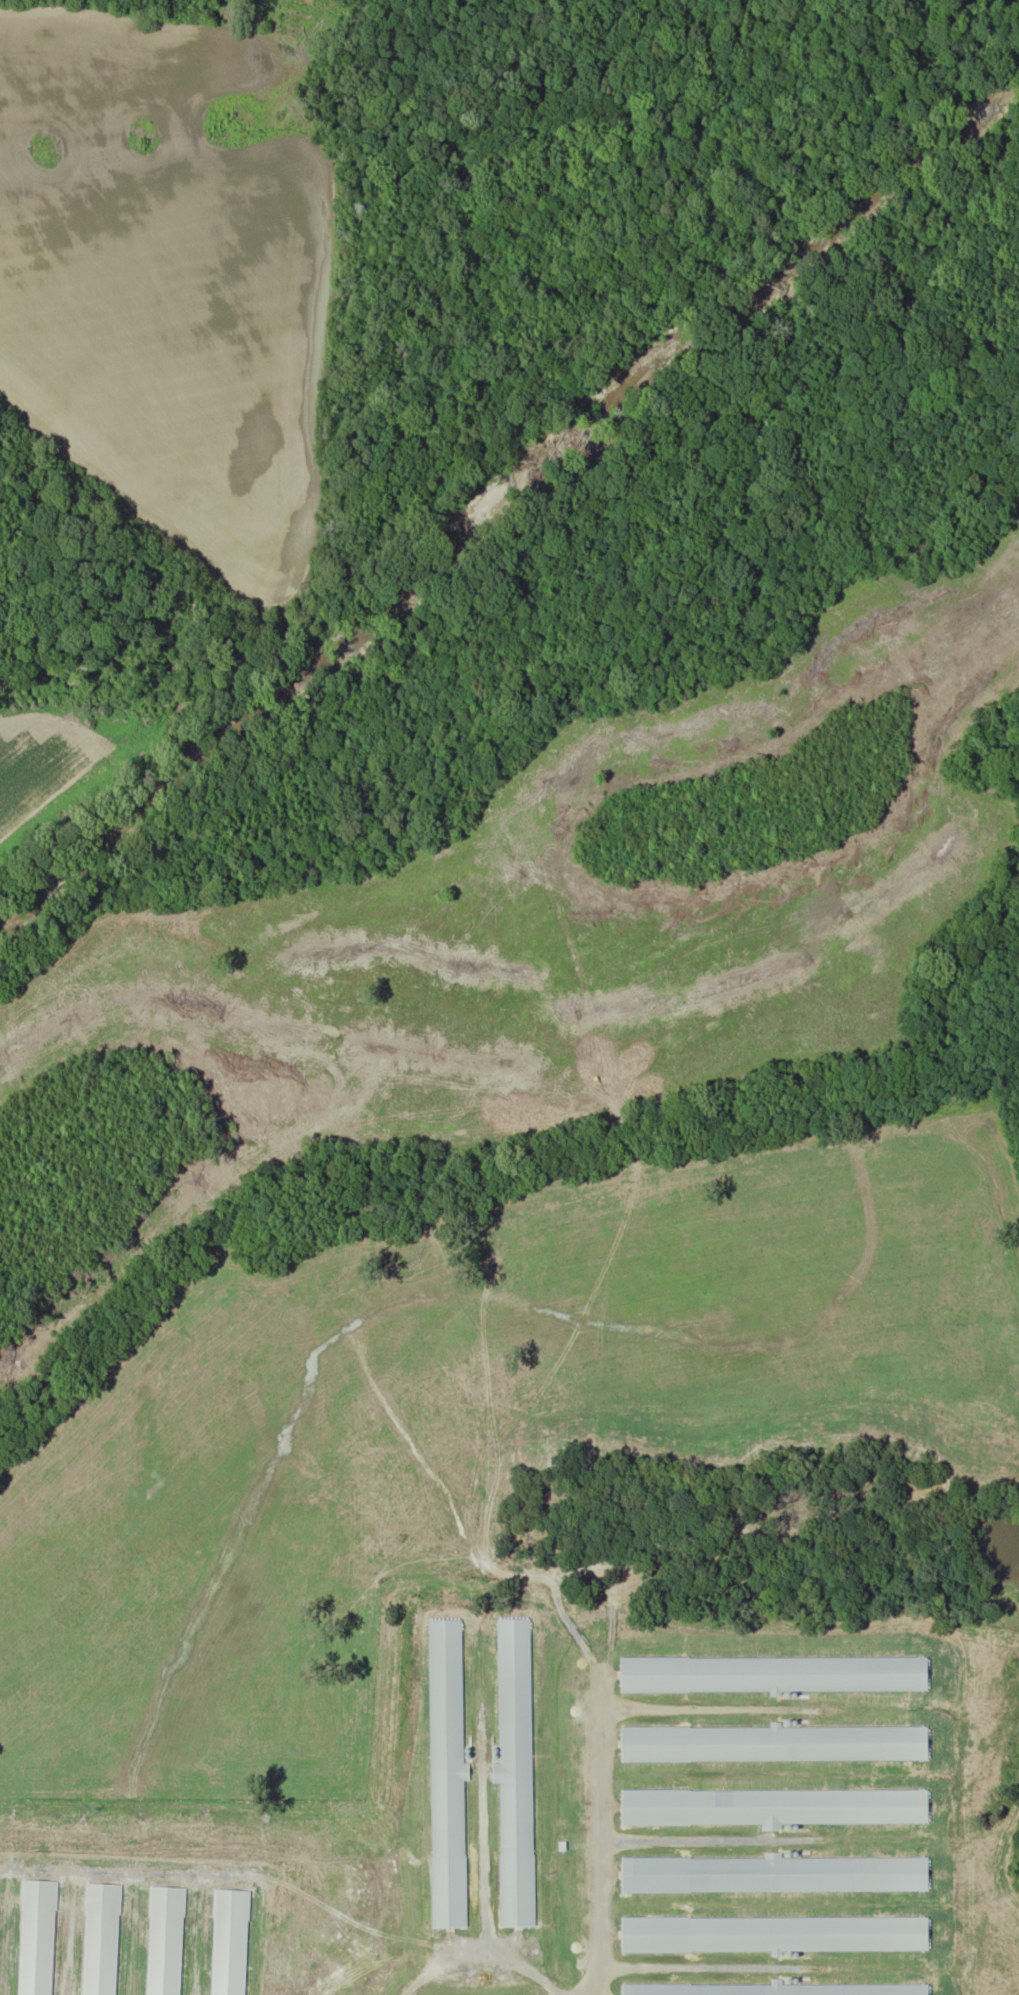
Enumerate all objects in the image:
building: (780, 1673)
building: (778, 1743)
building: (779, 1806)
building: (778, 1873)
building: (778, 1933)
building: (779, 1989)

